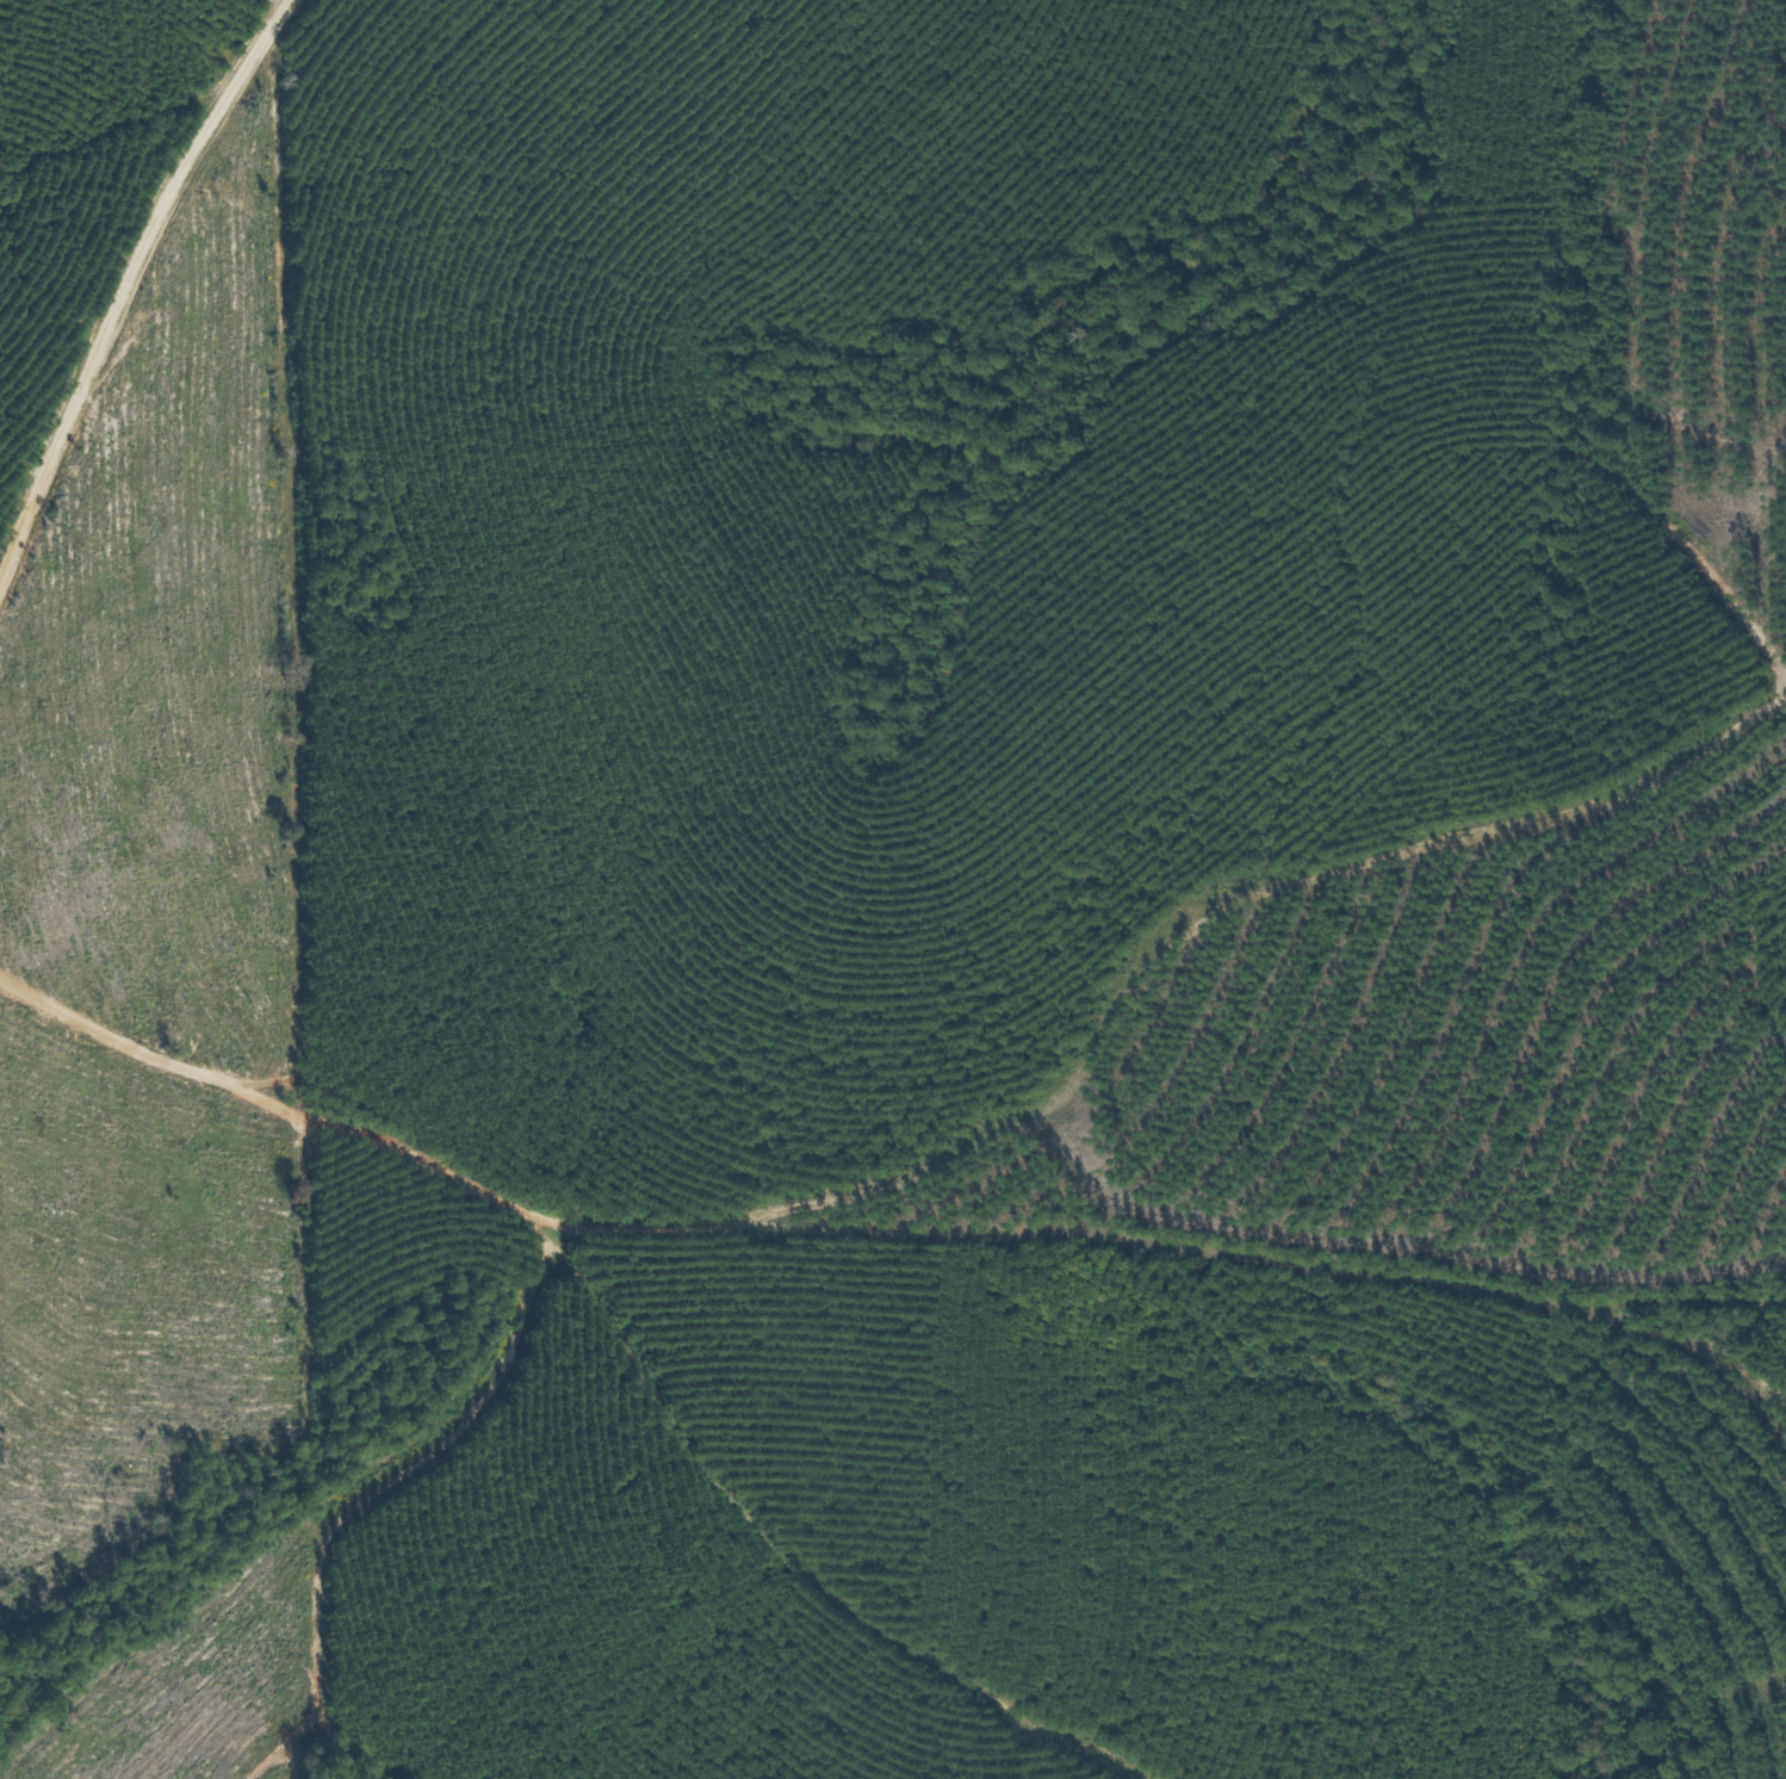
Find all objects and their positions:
road: (305, 6)
road: (1621, 359)
road: (700, 501)
road: (790, 1546)

